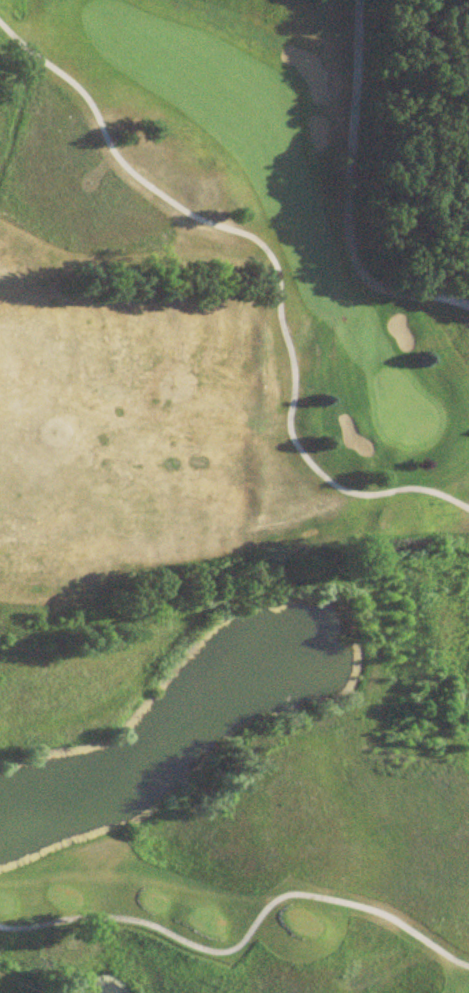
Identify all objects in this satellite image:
road: (350, 196)
road: (275, 270)
park: (229, 505)
road: (243, 935)

